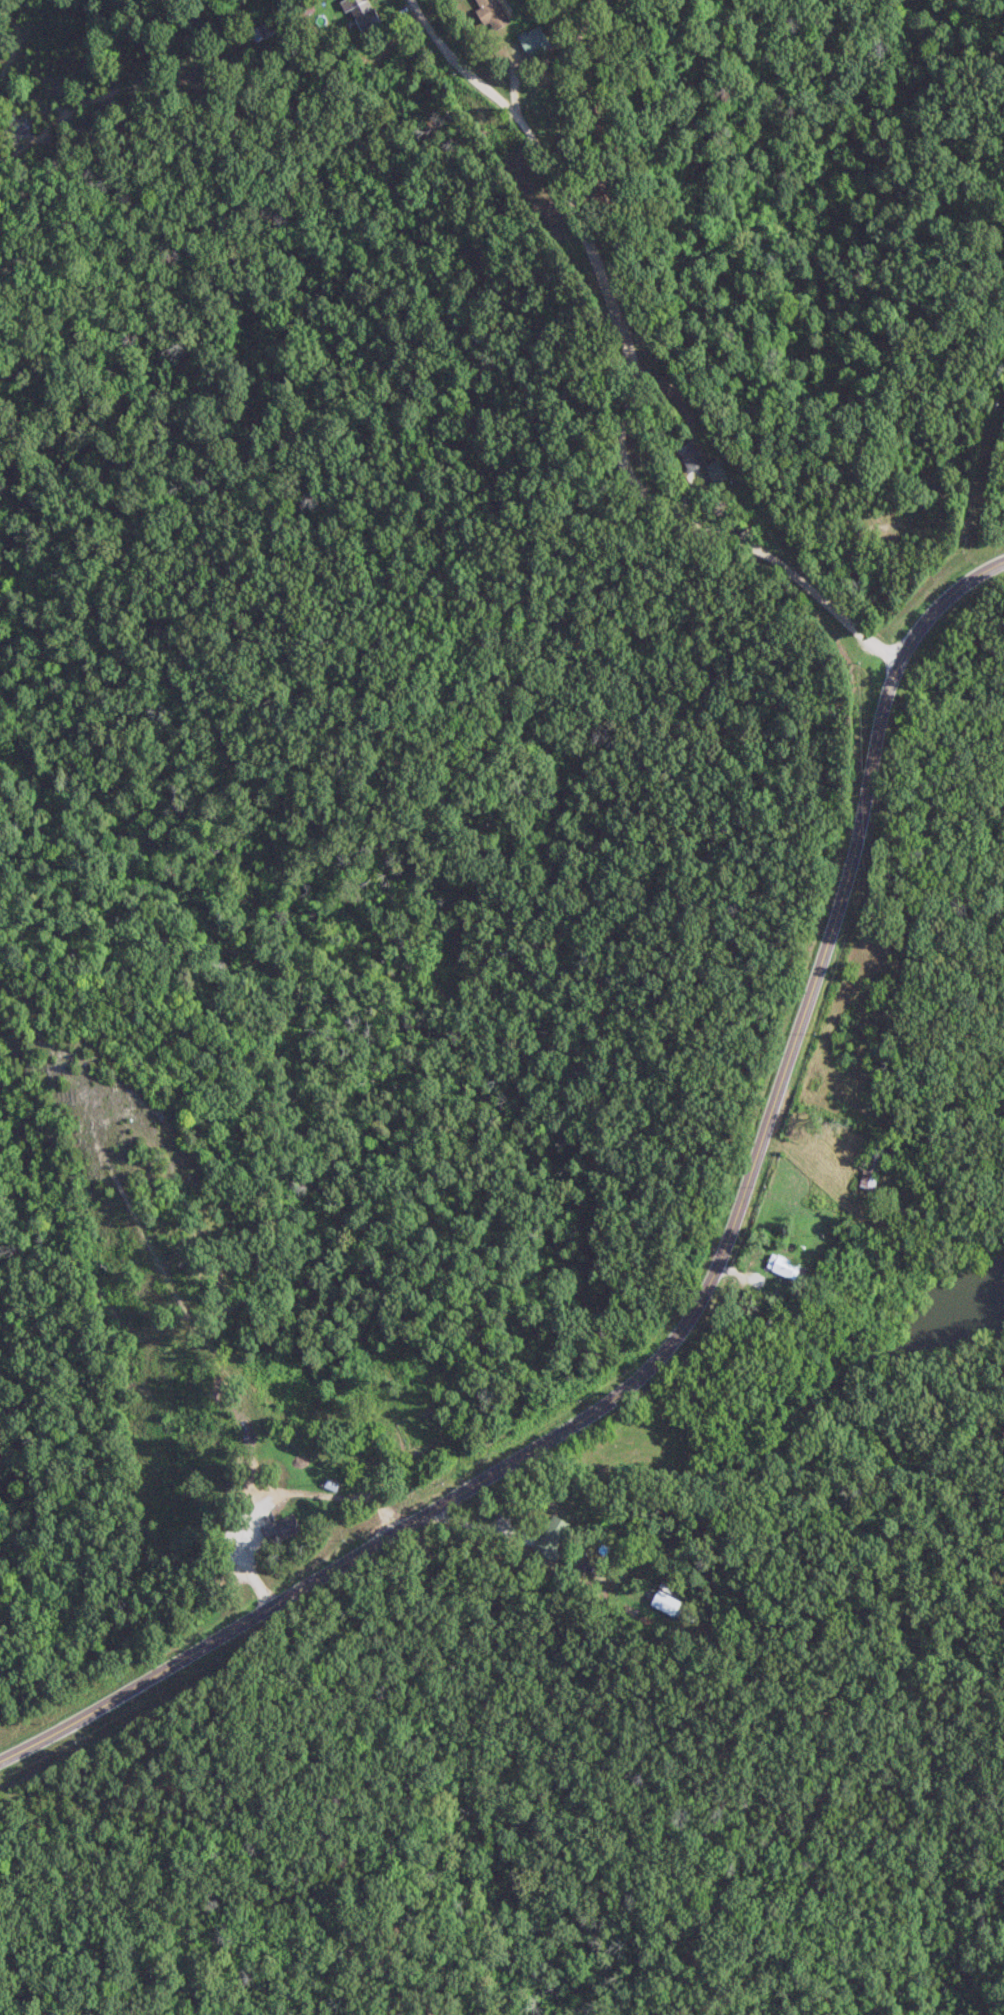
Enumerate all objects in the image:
building: (359, 7)
building: (263, 29)
building: (536, 40)
road: (629, 369)
building: (688, 455)
building: (714, 471)
building: (873, 1163)
building: (785, 1266)
road: (695, 1311)
building: (550, 1535)

